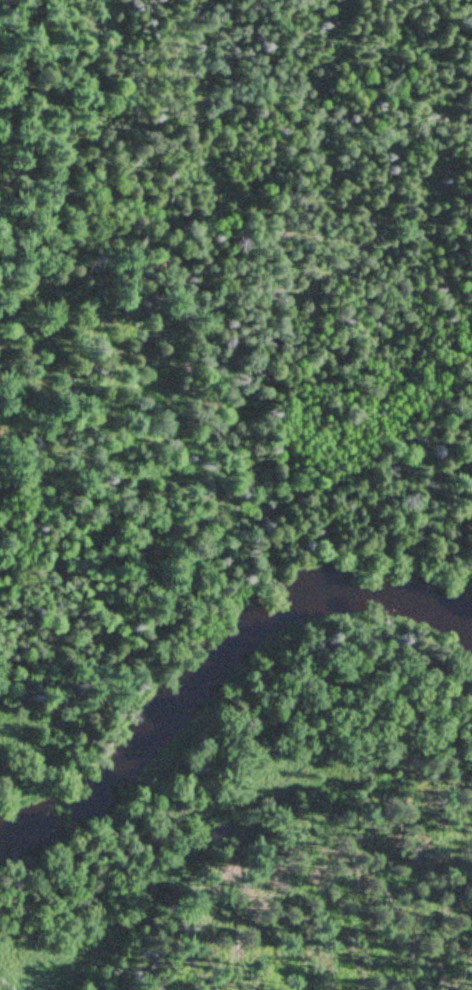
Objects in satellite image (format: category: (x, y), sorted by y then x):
river: (217, 662)

